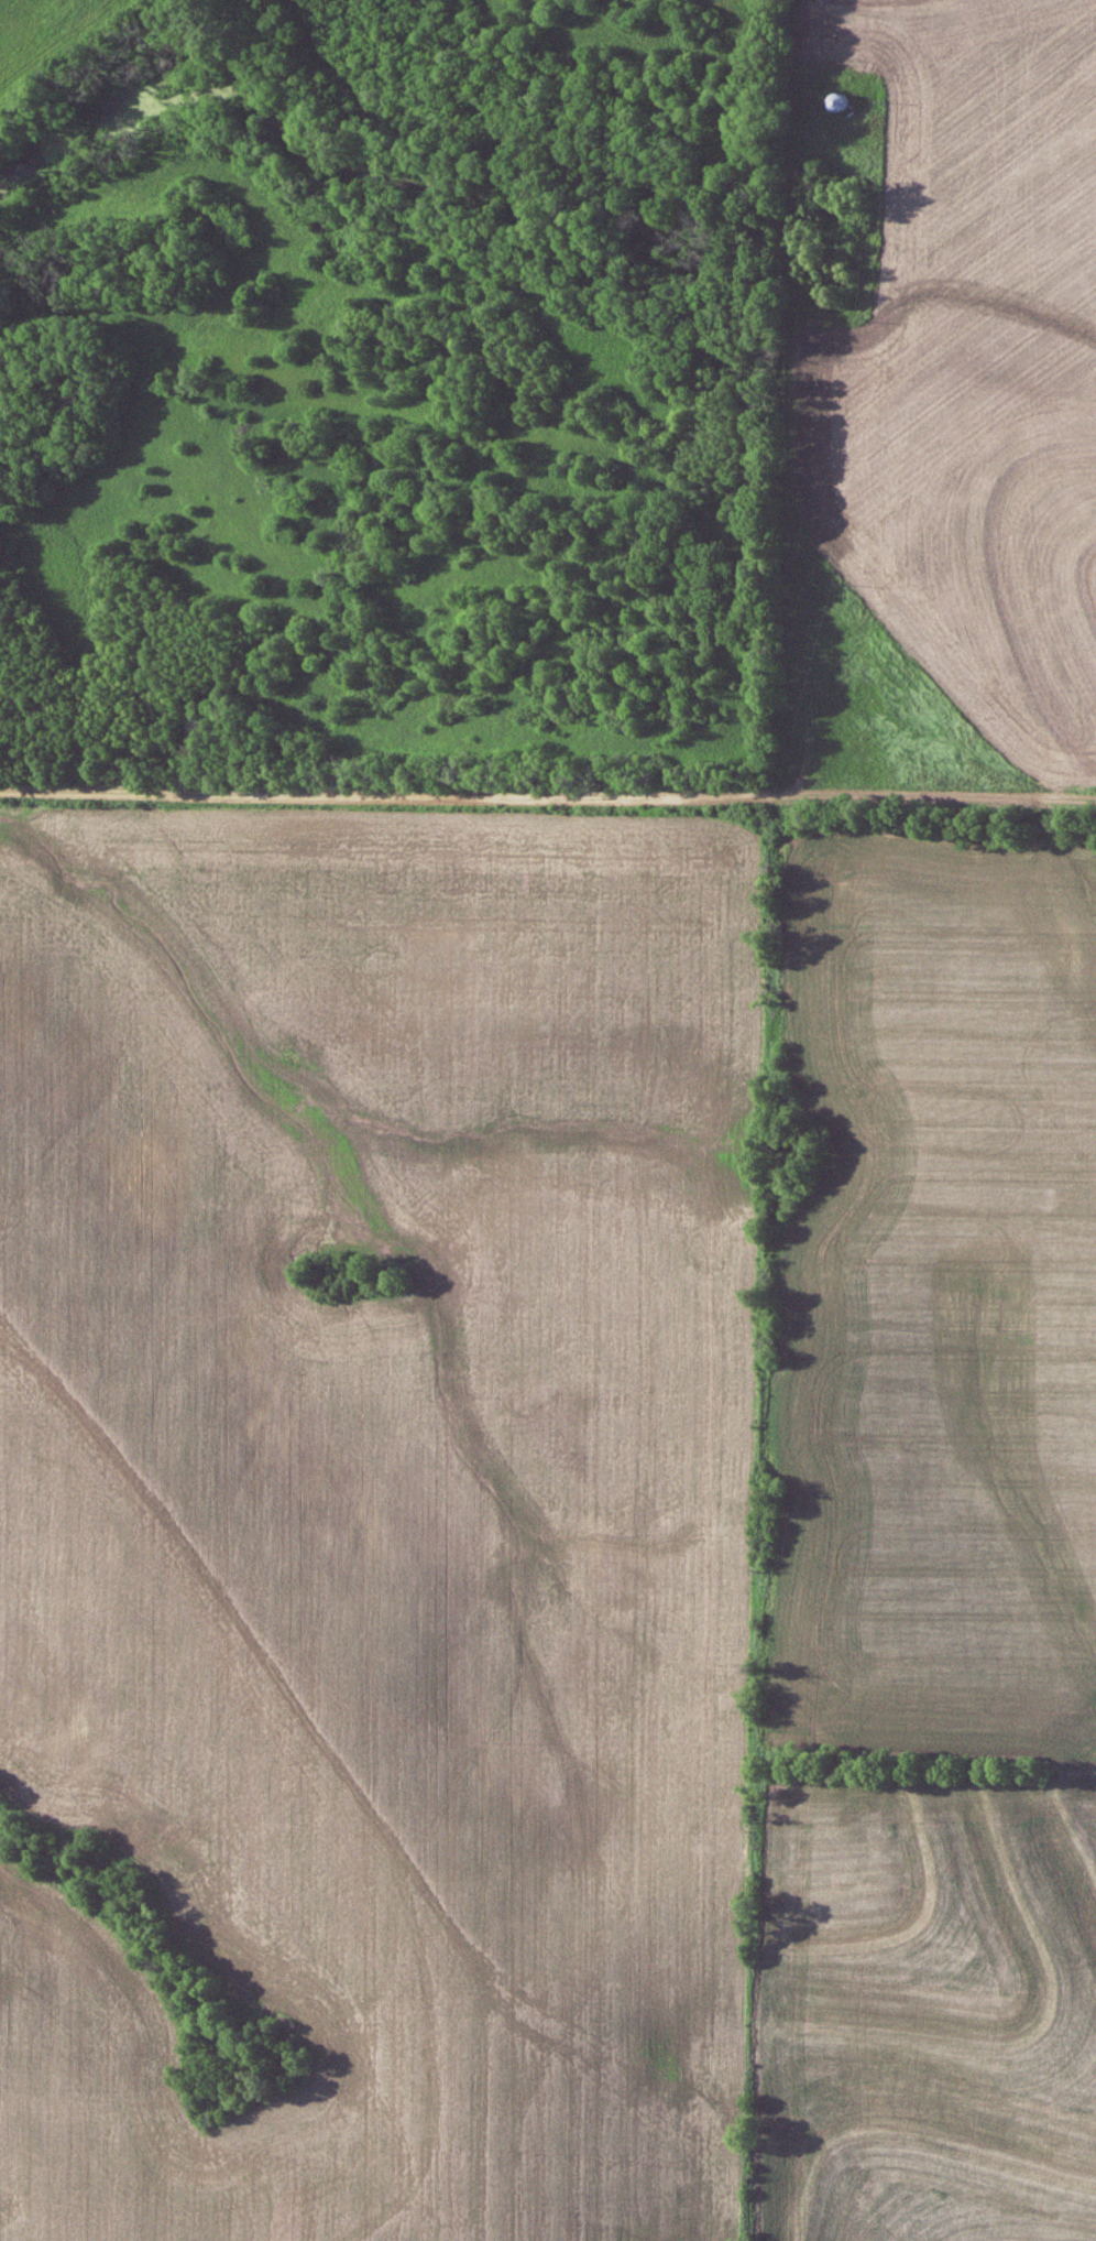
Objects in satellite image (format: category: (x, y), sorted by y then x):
building: (842, 104)
road: (548, 793)

